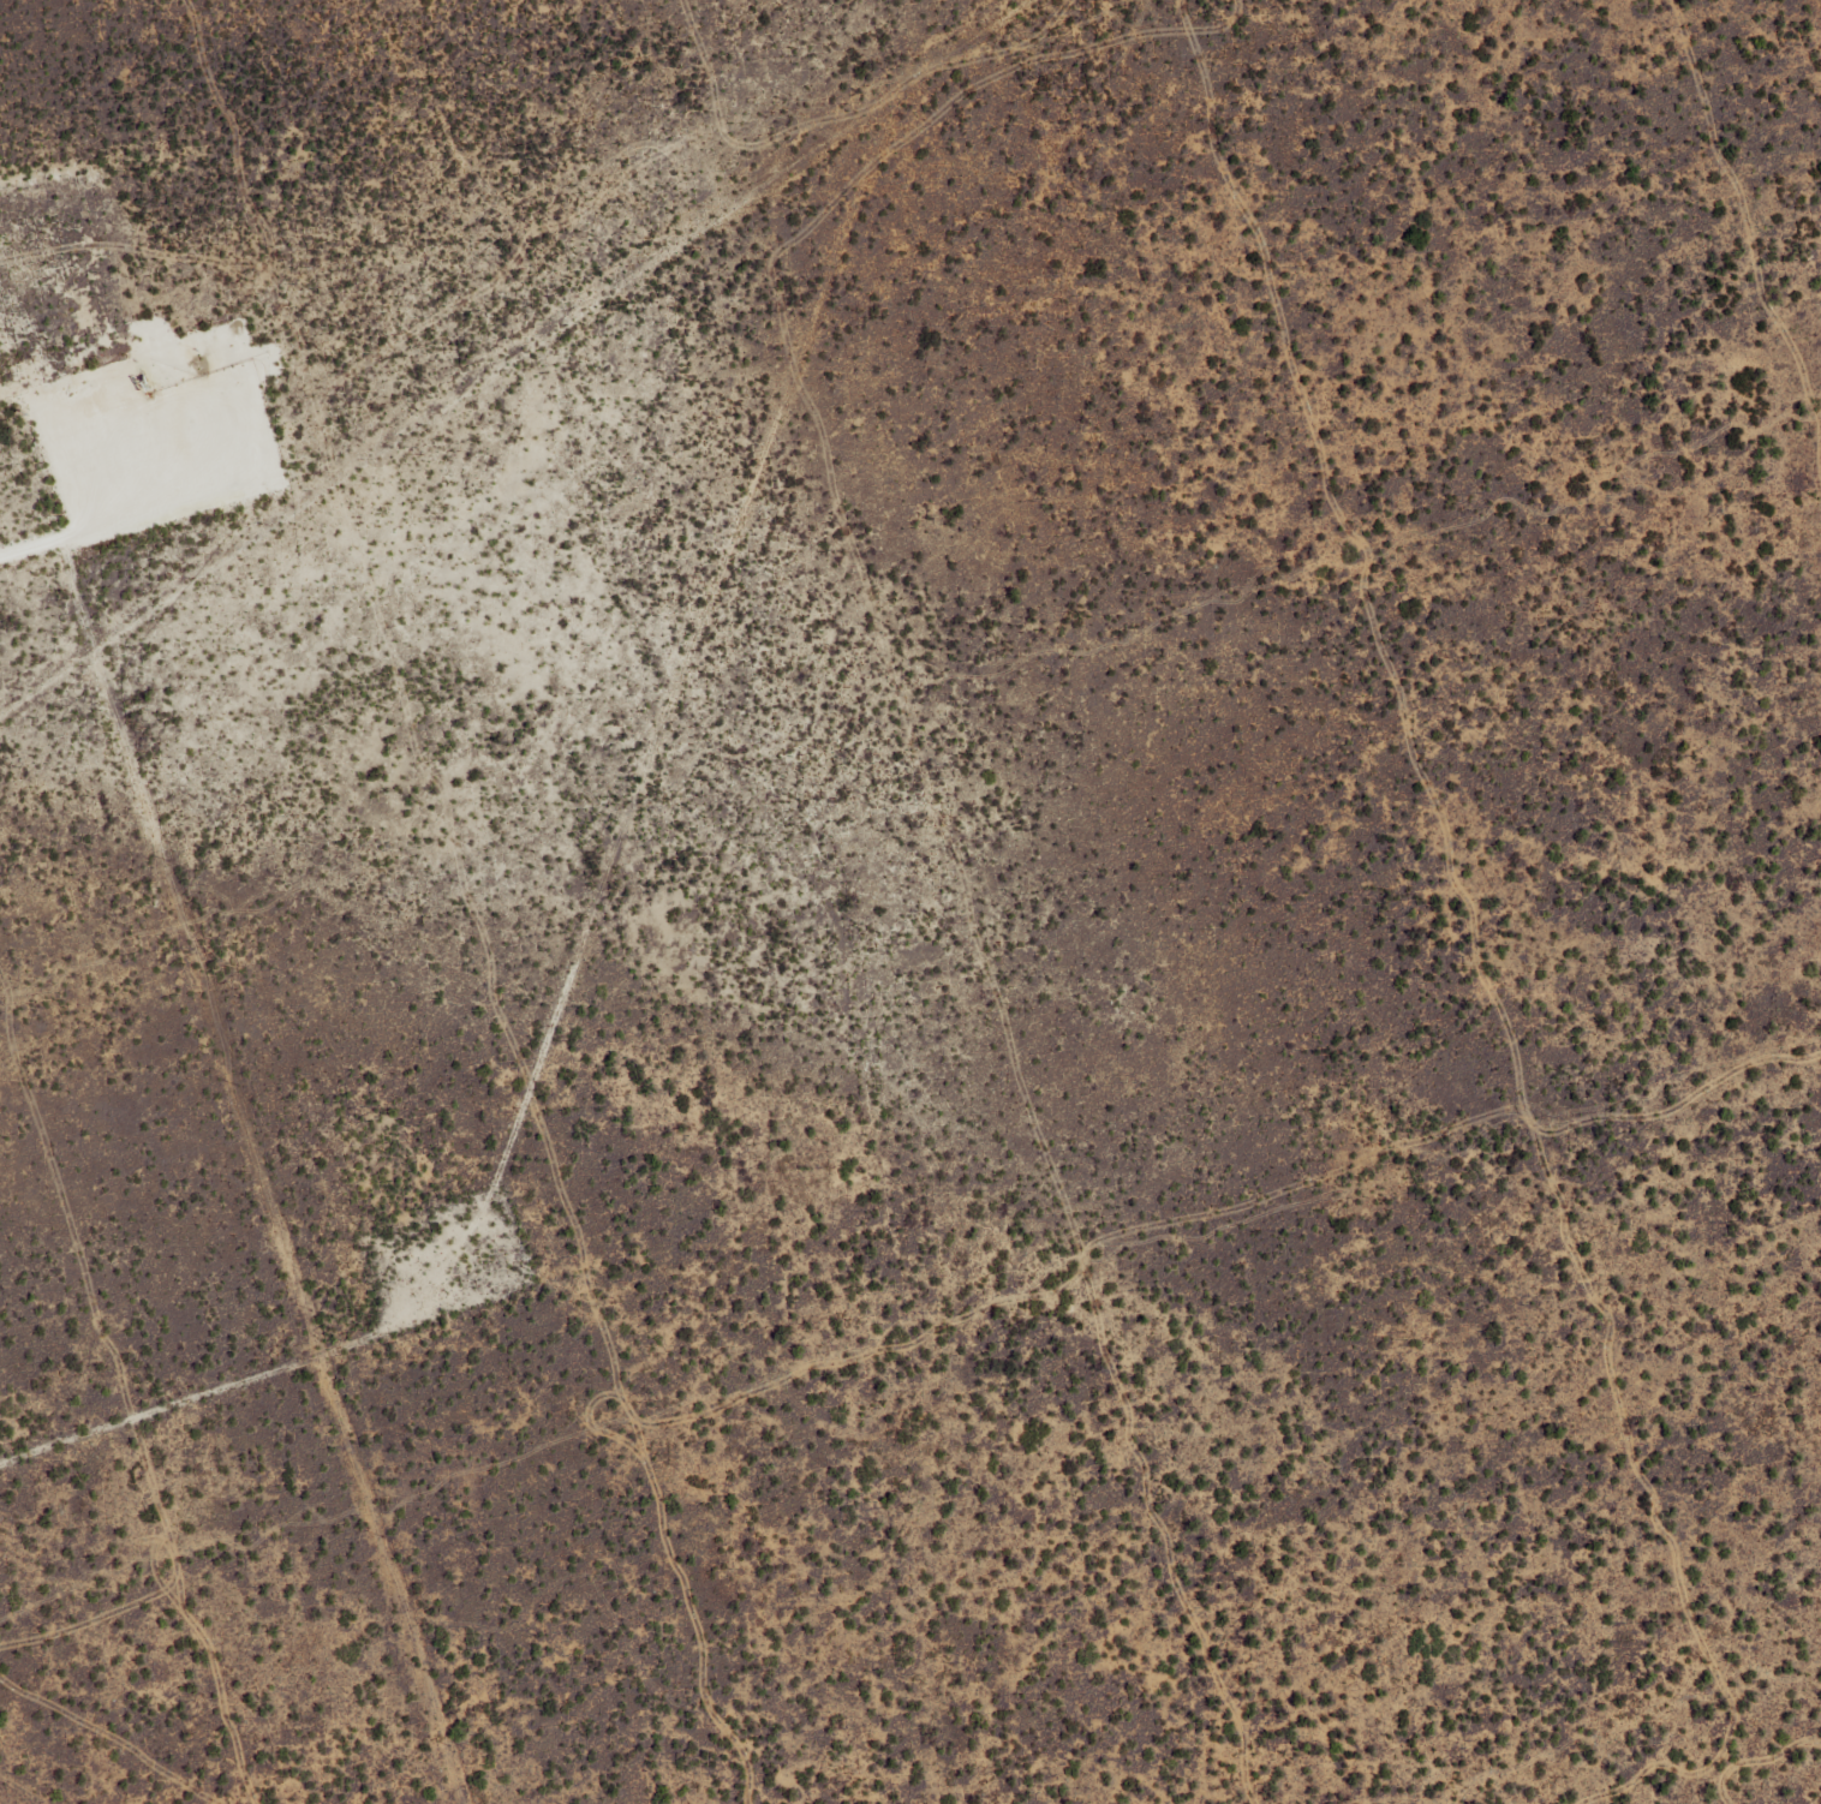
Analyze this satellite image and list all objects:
road: (831, 866)
road: (604, 889)

